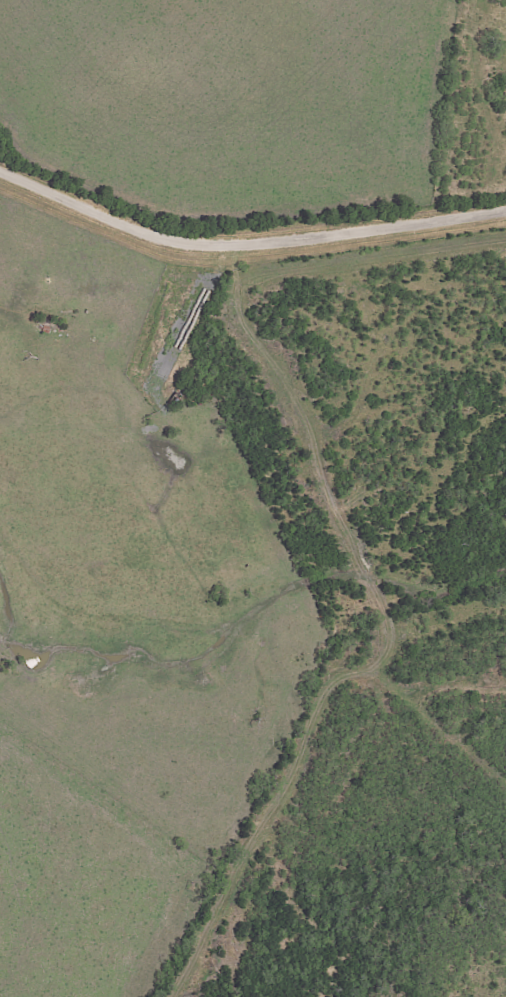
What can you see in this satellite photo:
road: (247, 248)

